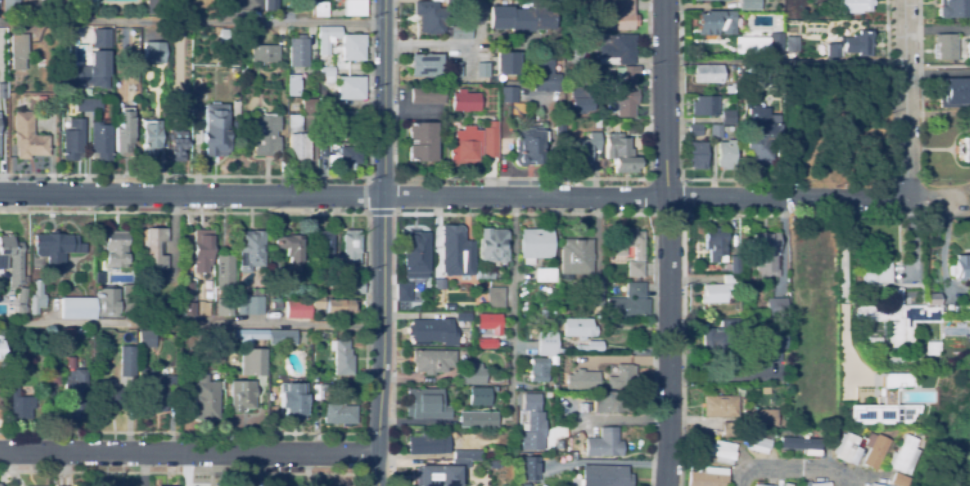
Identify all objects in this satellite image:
building: (705, 0)
building: (11, 3)
building: (88, 3)
building: (244, 5)
building: (287, 5)
building: (748, 5)
building: (854, 6)
building: (156, 7)
building: (268, 7)
building: (355, 8)
building: (950, 9)
building: (320, 10)
building: (465, 13)
building: (430, 15)
building: (616, 15)
building: (520, 18)
building: (715, 22)
road: (190, 25)
road: (936, 29)
building: (460, 33)
building: (328, 34)
building: (102, 37)
building: (757, 40)
building: (791, 41)
road: (427, 42)
building: (775, 42)
building: (847, 46)
building: (943, 46)
building: (352, 47)
building: (18, 50)
building: (299, 50)
building: (616, 50)
building: (967, 51)
building: (154, 52)
building: (265, 54)
building: (574, 57)
road: (784, 61)
building: (506, 63)
building: (426, 65)
building: (735, 68)
building: (236, 69)
building: (454, 69)
road: (936, 69)
building: (482, 70)
building: (89, 71)
building: (243, 71)
building: (707, 73)
building: (327, 74)
building: (544, 75)
building: (129, 78)
building: (291, 85)
building: (349, 88)
building: (727, 89)
building: (3, 90)
building: (626, 90)
building: (491, 92)
building: (952, 93)
building: (508, 94)
building: (428, 96)
building: (581, 96)
road: (903, 99)
building: (326, 101)
building: (465, 101)
building: (87, 105)
building: (703, 106)
building: (309, 107)
building: (726, 117)
building: (345, 120)
building: (604, 122)
building: (294, 123)
building: (596, 124)
building: (558, 126)
building: (177, 127)
building: (724, 129)
building: (728, 129)
building: (214, 130)
building: (693, 130)
building: (124, 132)
building: (714, 132)
building: (265, 135)
building: (325, 135)
building: (28, 136)
building: (151, 137)
building: (760, 139)
building: (73, 140)
building: (490, 140)
building: (422, 142)
building: (101, 144)
building: (465, 145)
building: (299, 147)
building: (527, 147)
building: (323, 149)
building: (581, 149)
building: (963, 149)
building: (619, 154)
building: (695, 155)
building: (724, 155)
building: (349, 156)
road: (272, 176)
road: (521, 177)
road: (453, 197)
road: (381, 242)
building: (624, 242)
building: (535, 243)
road: (666, 243)
building: (492, 245)
building: (713, 245)
building: (323, 247)
building: (351, 247)
building: (153, 248)
building: (293, 248)
building: (116, 249)
building: (57, 250)
building: (202, 250)
building: (250, 250)
building: (456, 251)
building: (761, 252)
building: (814, 253)
building: (415, 255)
building: (575, 256)
building: (11, 259)
building: (340, 260)
building: (732, 265)
building: (99, 266)
building: (958, 267)
building: (633, 269)
building: (224, 272)
building: (876, 272)
building: (485, 274)
building: (544, 275)
building: (440, 283)
building: (350, 286)
building: (594, 288)
building: (716, 290)
building: (406, 292)
road: (837, 292)
building: (22, 296)
building: (36, 298)
building: (495, 298)
building: (129, 299)
building: (187, 299)
building: (928, 299)
building: (249, 301)
building: (627, 303)
building: (334, 304)
building: (103, 305)
building: (773, 307)
building: (77, 308)
building: (201, 308)
building: (218, 308)
road: (512, 308)
building: (297, 309)
building: (962, 309)
building: (143, 311)
building: (542, 312)
building: (462, 315)
building: (895, 315)
road: (190, 322)
building: (491, 322)
building: (723, 323)
building: (577, 328)
building: (433, 331)
building: (77, 332)
building: (482, 332)
building: (65, 335)
building: (249, 335)
building: (320, 336)
building: (146, 339)
building: (283, 339)
building: (214, 340)
building: (715, 340)
building: (870, 340)
building: (486, 343)
building: (546, 344)
building: (765, 345)
building: (927, 347)
building: (1, 349)
building: (558, 349)
building: (341, 357)
building: (126, 360)
building: (432, 361)
building: (254, 362)
building: (275, 363)
building: (537, 370)
building: (471, 373)
building: (52, 377)
building: (621, 377)
building: (581, 379)
building: (152, 387)
building: (554, 387)
building: (75, 391)
building: (316, 391)
building: (761, 391)
building: (548, 394)
building: (241, 395)
building: (479, 396)
building: (113, 398)
building: (205, 398)
building: (291, 398)
building: (608, 402)
building: (19, 403)
building: (879, 403)
building: (425, 404)
building: (586, 405)
building: (720, 406)
building: (339, 411)
building: (756, 418)
building: (478, 419)
building: (532, 423)
building: (454, 429)
building: (725, 429)
building: (912, 433)
building: (771, 435)
building: (828, 438)
building: (428, 443)
building: (753, 443)
building: (603, 444)
building: (796, 444)
building: (843, 448)
building: (870, 450)
building: (718, 451)
road: (188, 454)
building: (501, 456)
building: (899, 456)
building: (493, 464)
building: (690, 467)
building: (529, 469)
building: (446, 470)
road: (787, 470)
building: (604, 476)
building: (704, 476)
building: (895, 480)
building: (0, 484)
building: (525, 484)
building: (784, 484)
building: (816, 484)
building: (759, 485)
building: (780, 485)
building: (871, 485)

